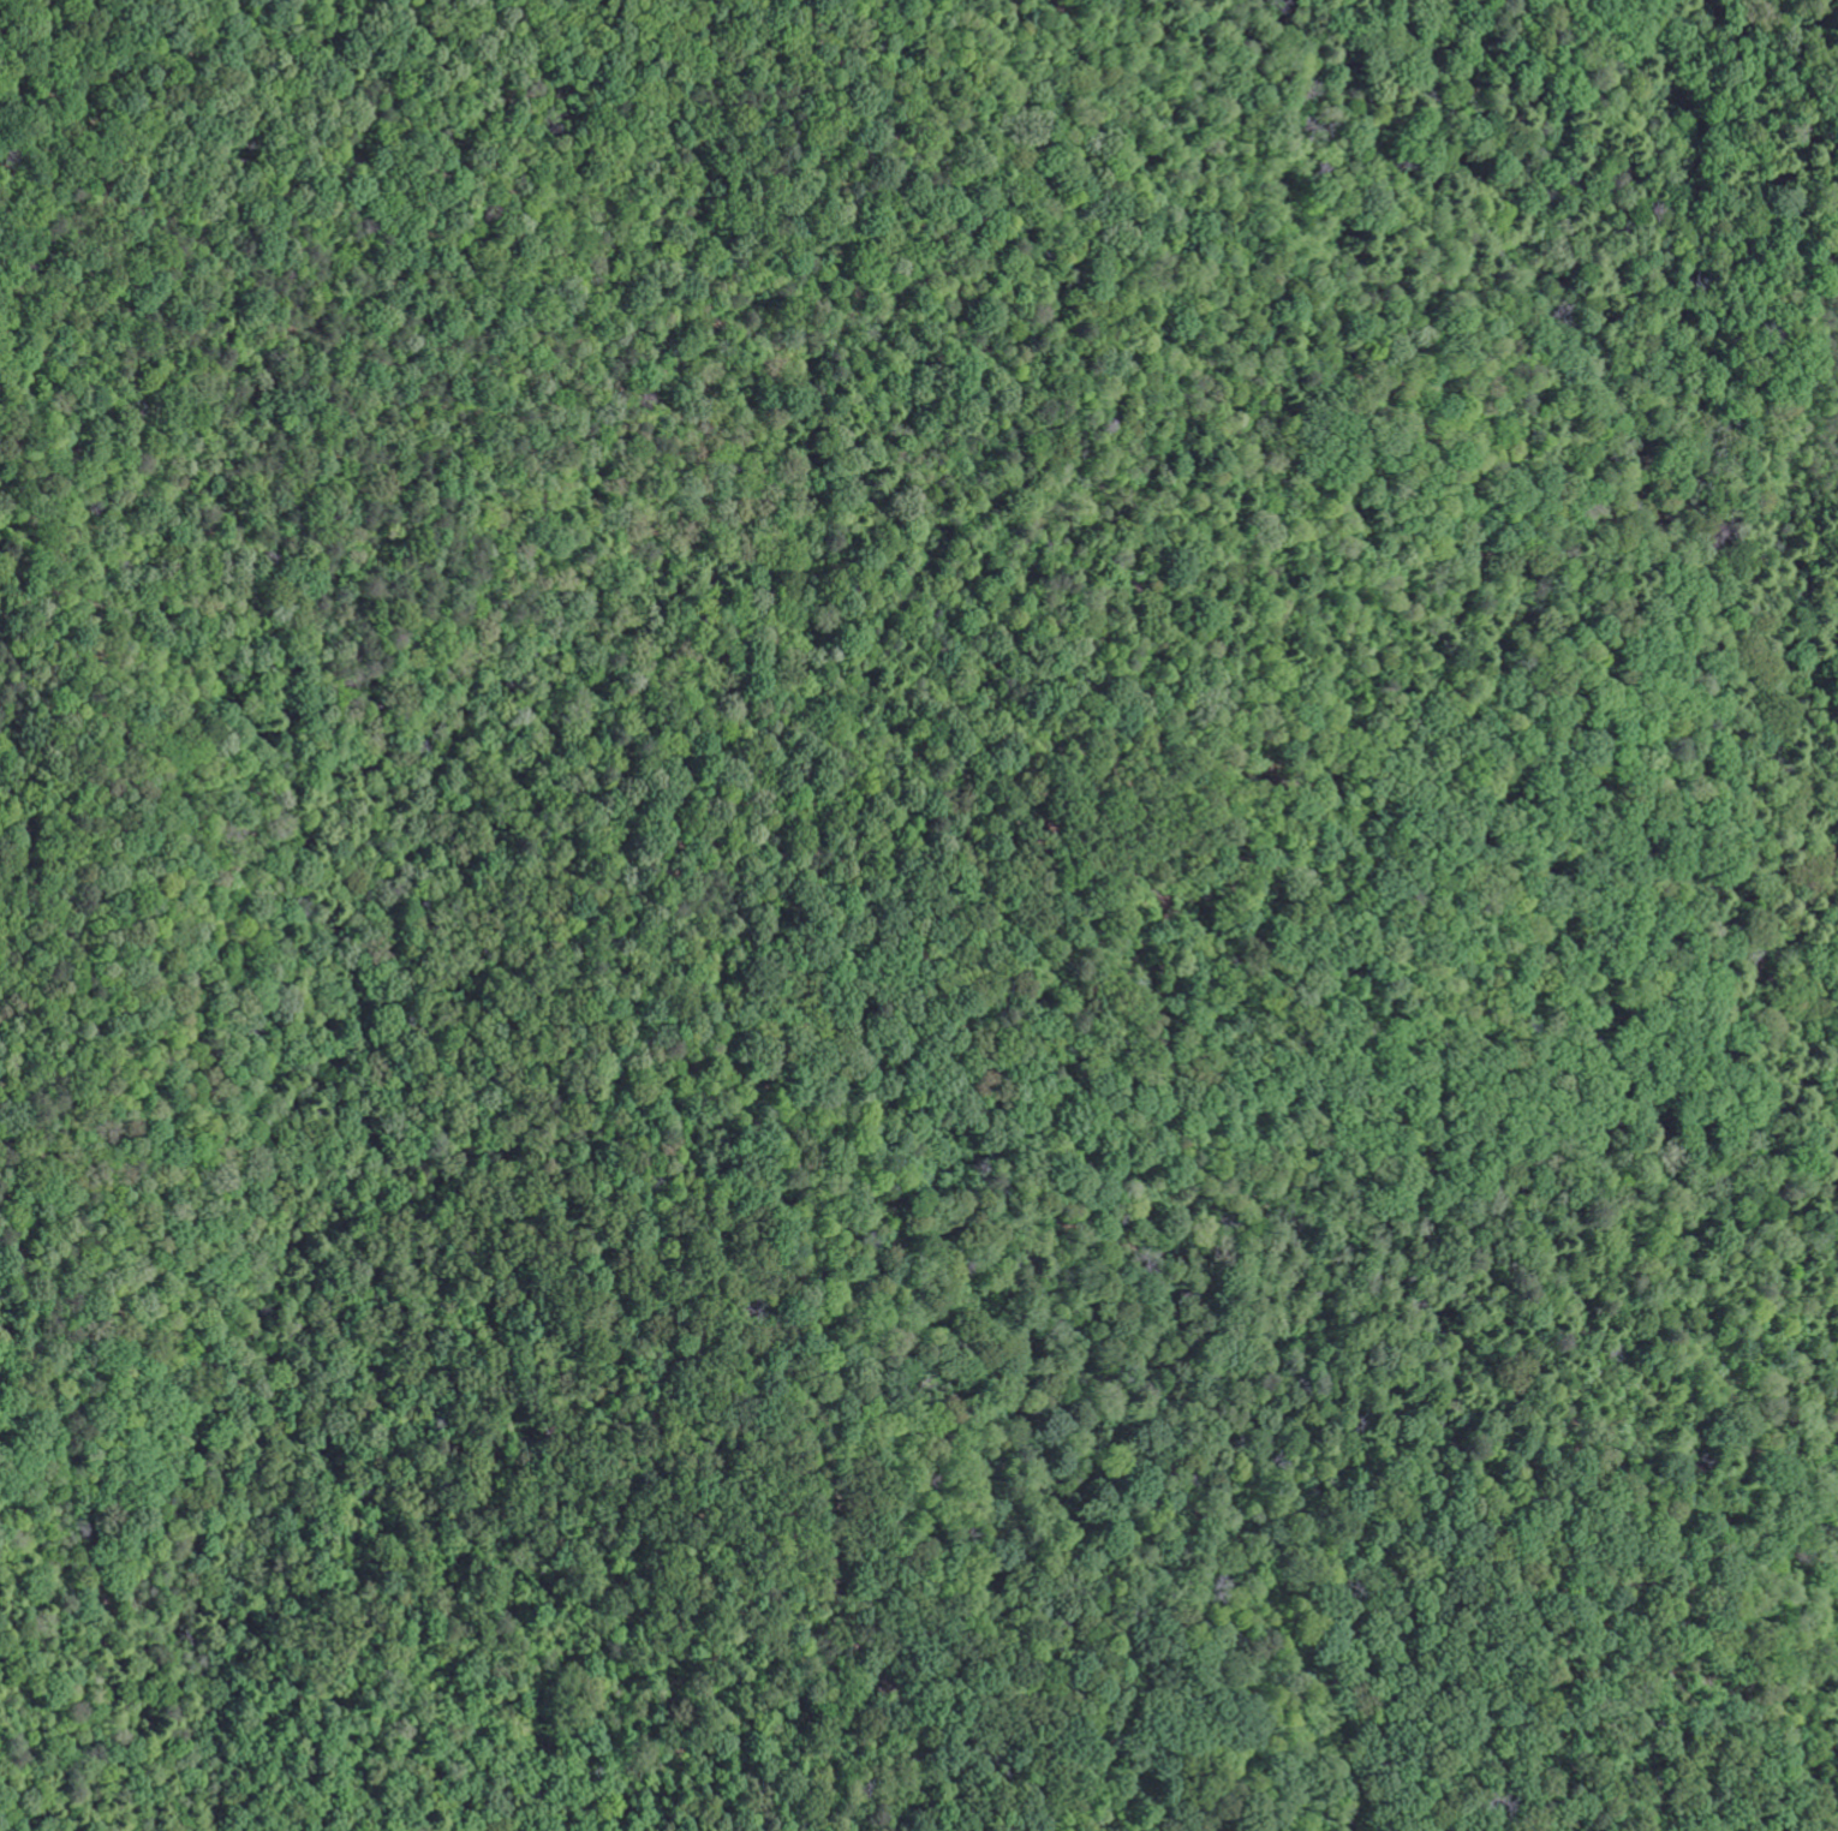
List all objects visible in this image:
road: (819, 398)
road: (1297, 1135)
road: (1765, 1147)
road: (778, 1457)

